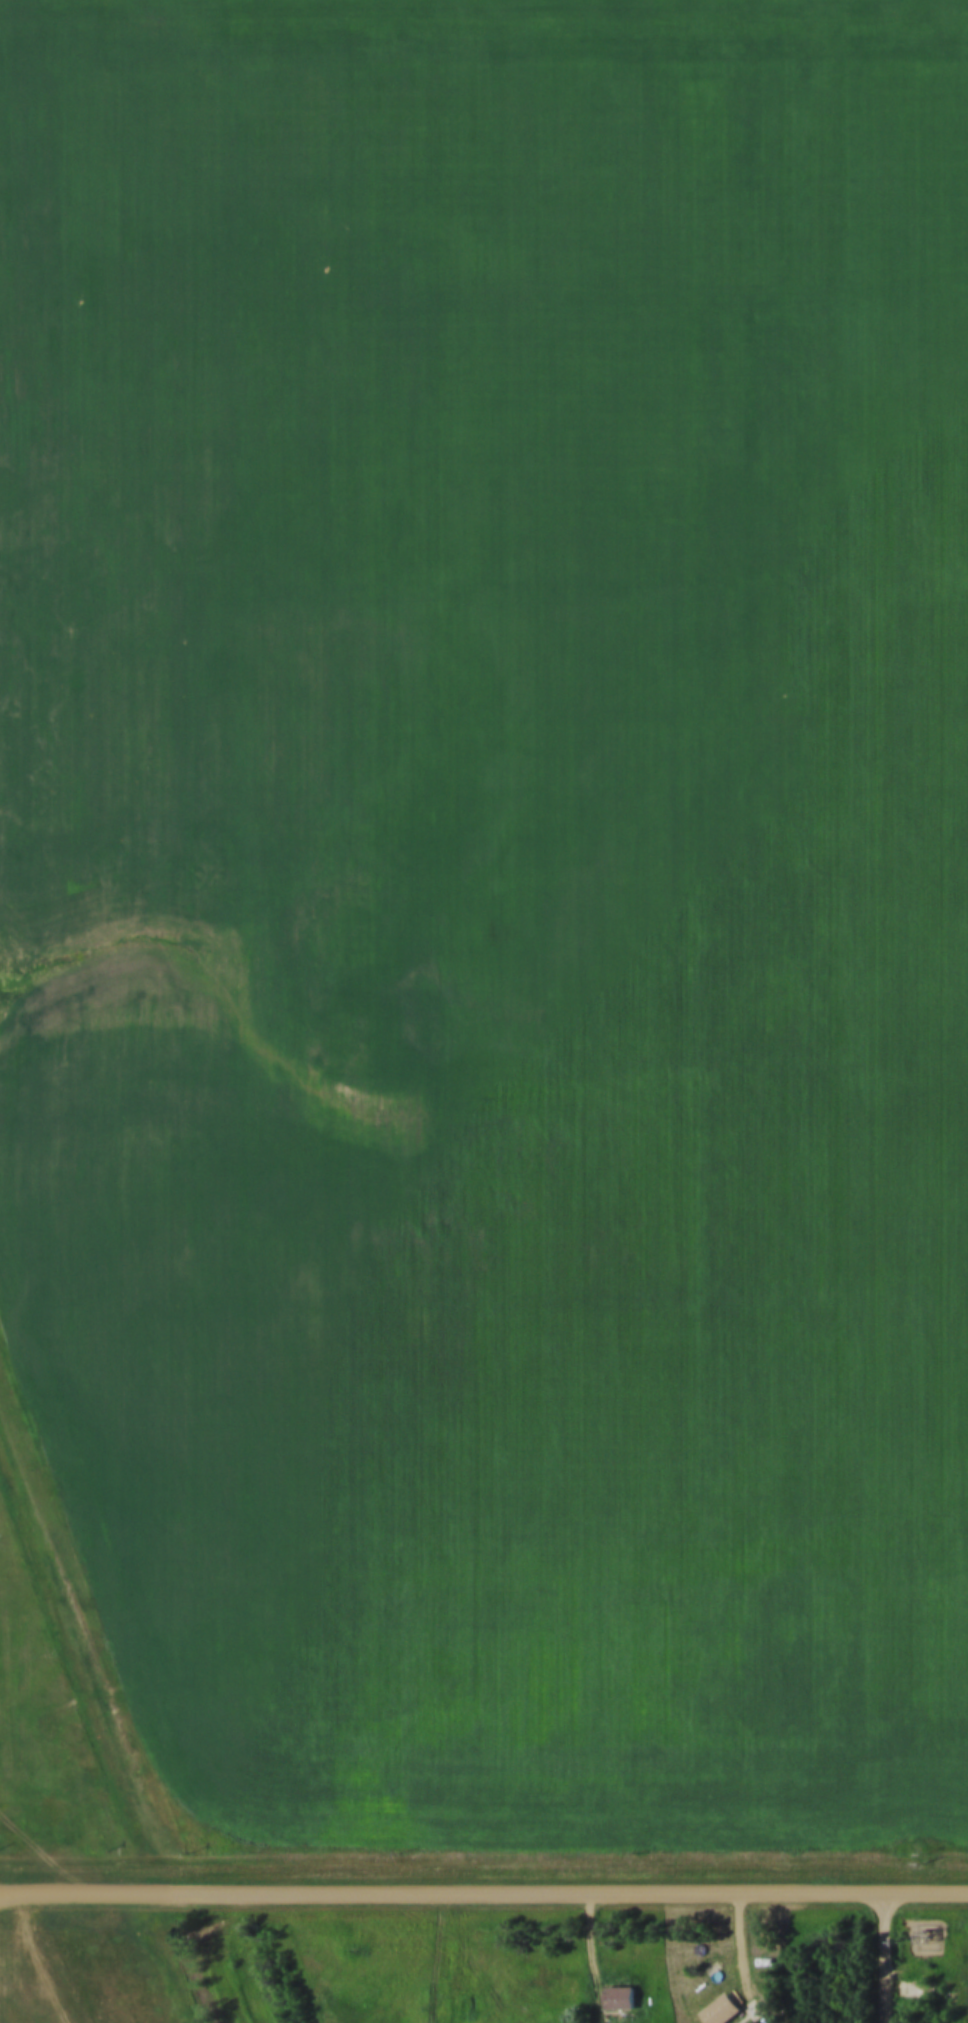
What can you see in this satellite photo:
road: (484, 1892)
power substation: (929, 1917)
road: (890, 1957)
road: (467, 1958)
road: (602, 1958)
building: (622, 1982)
building: (722, 1995)
building: (618, 1998)
building: (720, 2011)
road: (767, 2014)

